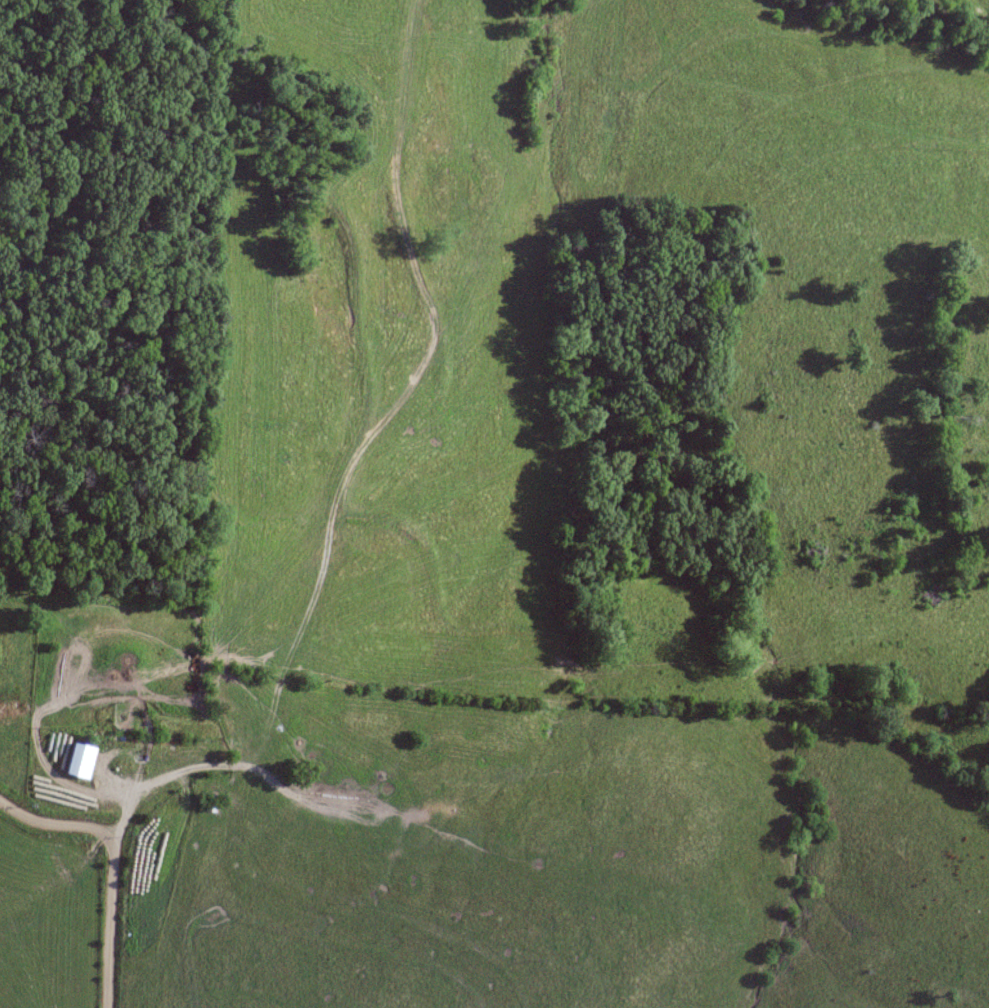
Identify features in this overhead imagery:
building: (208, 805)
road: (111, 864)

